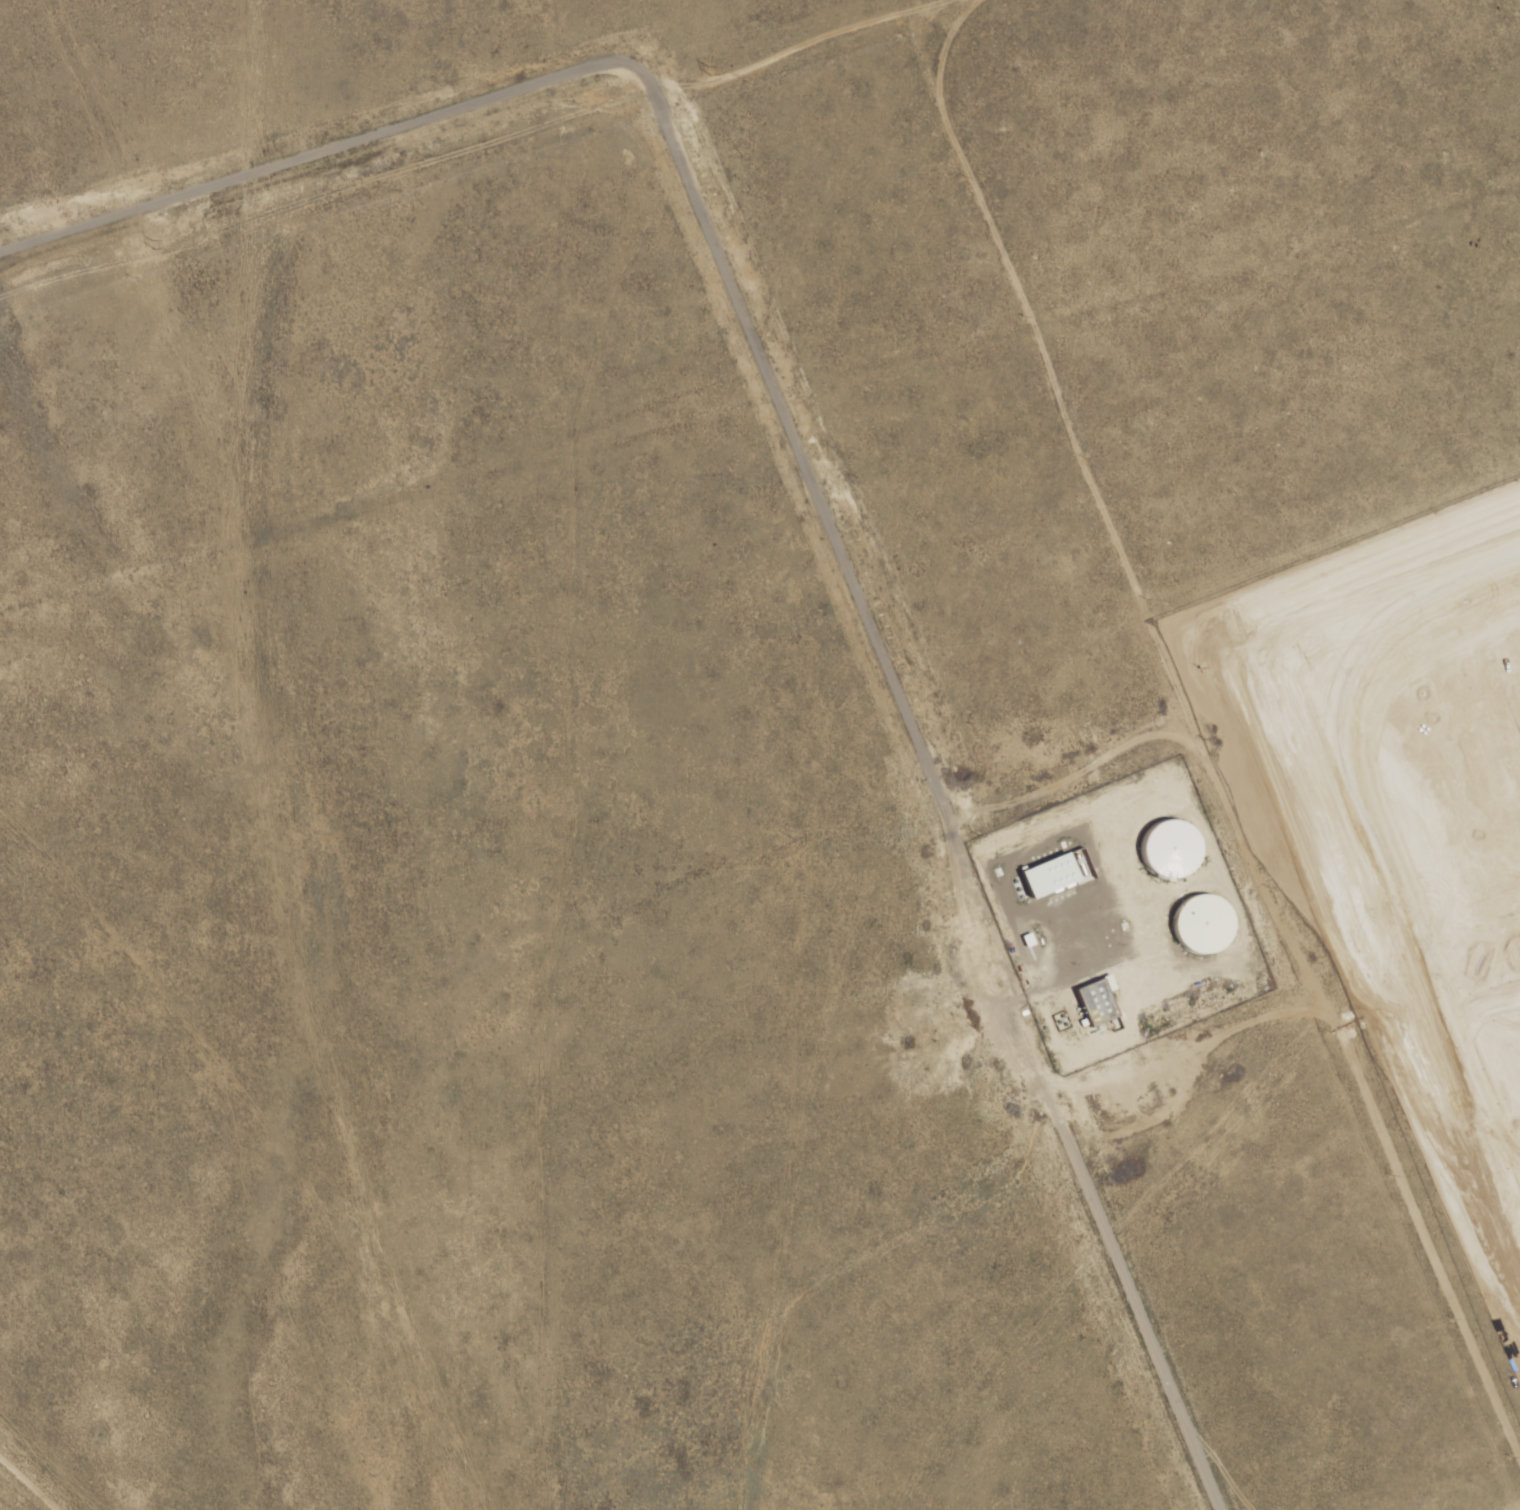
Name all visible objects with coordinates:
power substation: (13, 31)
power tower: (709, 71)
building: (1405, 117)
road: (1239, 189)
road: (723, 240)
power tower: (152, 245)
road: (1146, 307)
road: (1330, 519)
parking lot: (1394, 697)
road: (1466, 756)
road: (1347, 791)
building: (1168, 843)
storage tank: (1168, 843)
building: (1044, 868)
building: (1206, 921)
storage tank: (1206, 921)
building: (1093, 1003)
road: (1478, 1011)
road: (1505, 1096)
parking lot: (1510, 1114)
road: (1517, 1120)
road: (1517, 1127)
road: (1485, 1133)
road: (1392, 1156)
road: (1487, 1226)
road: (1110, 1243)
road: (1518, 1297)

